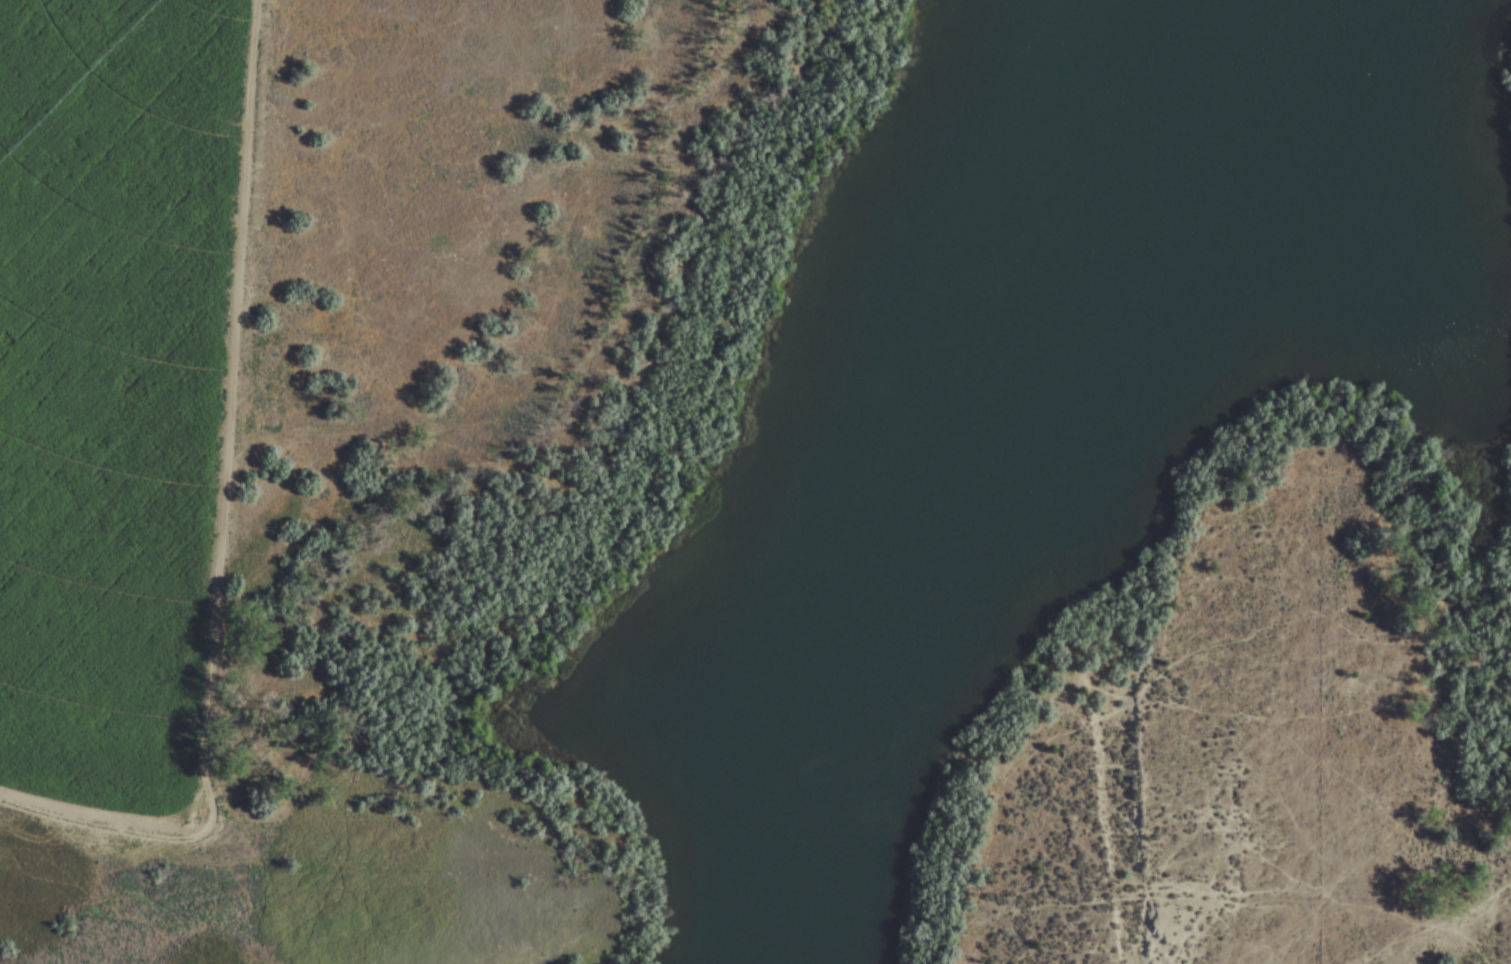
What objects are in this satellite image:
crop: (114, 385)

